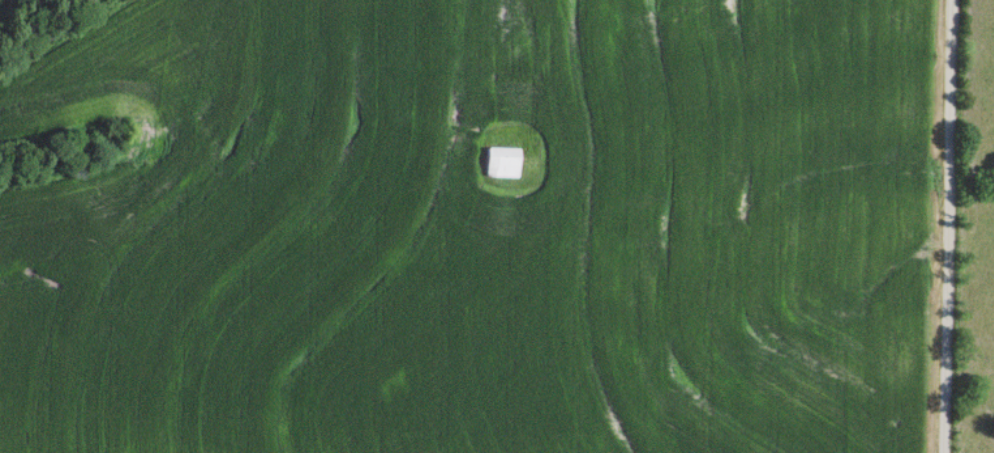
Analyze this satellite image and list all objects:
building: (500, 161)
road: (947, 226)

